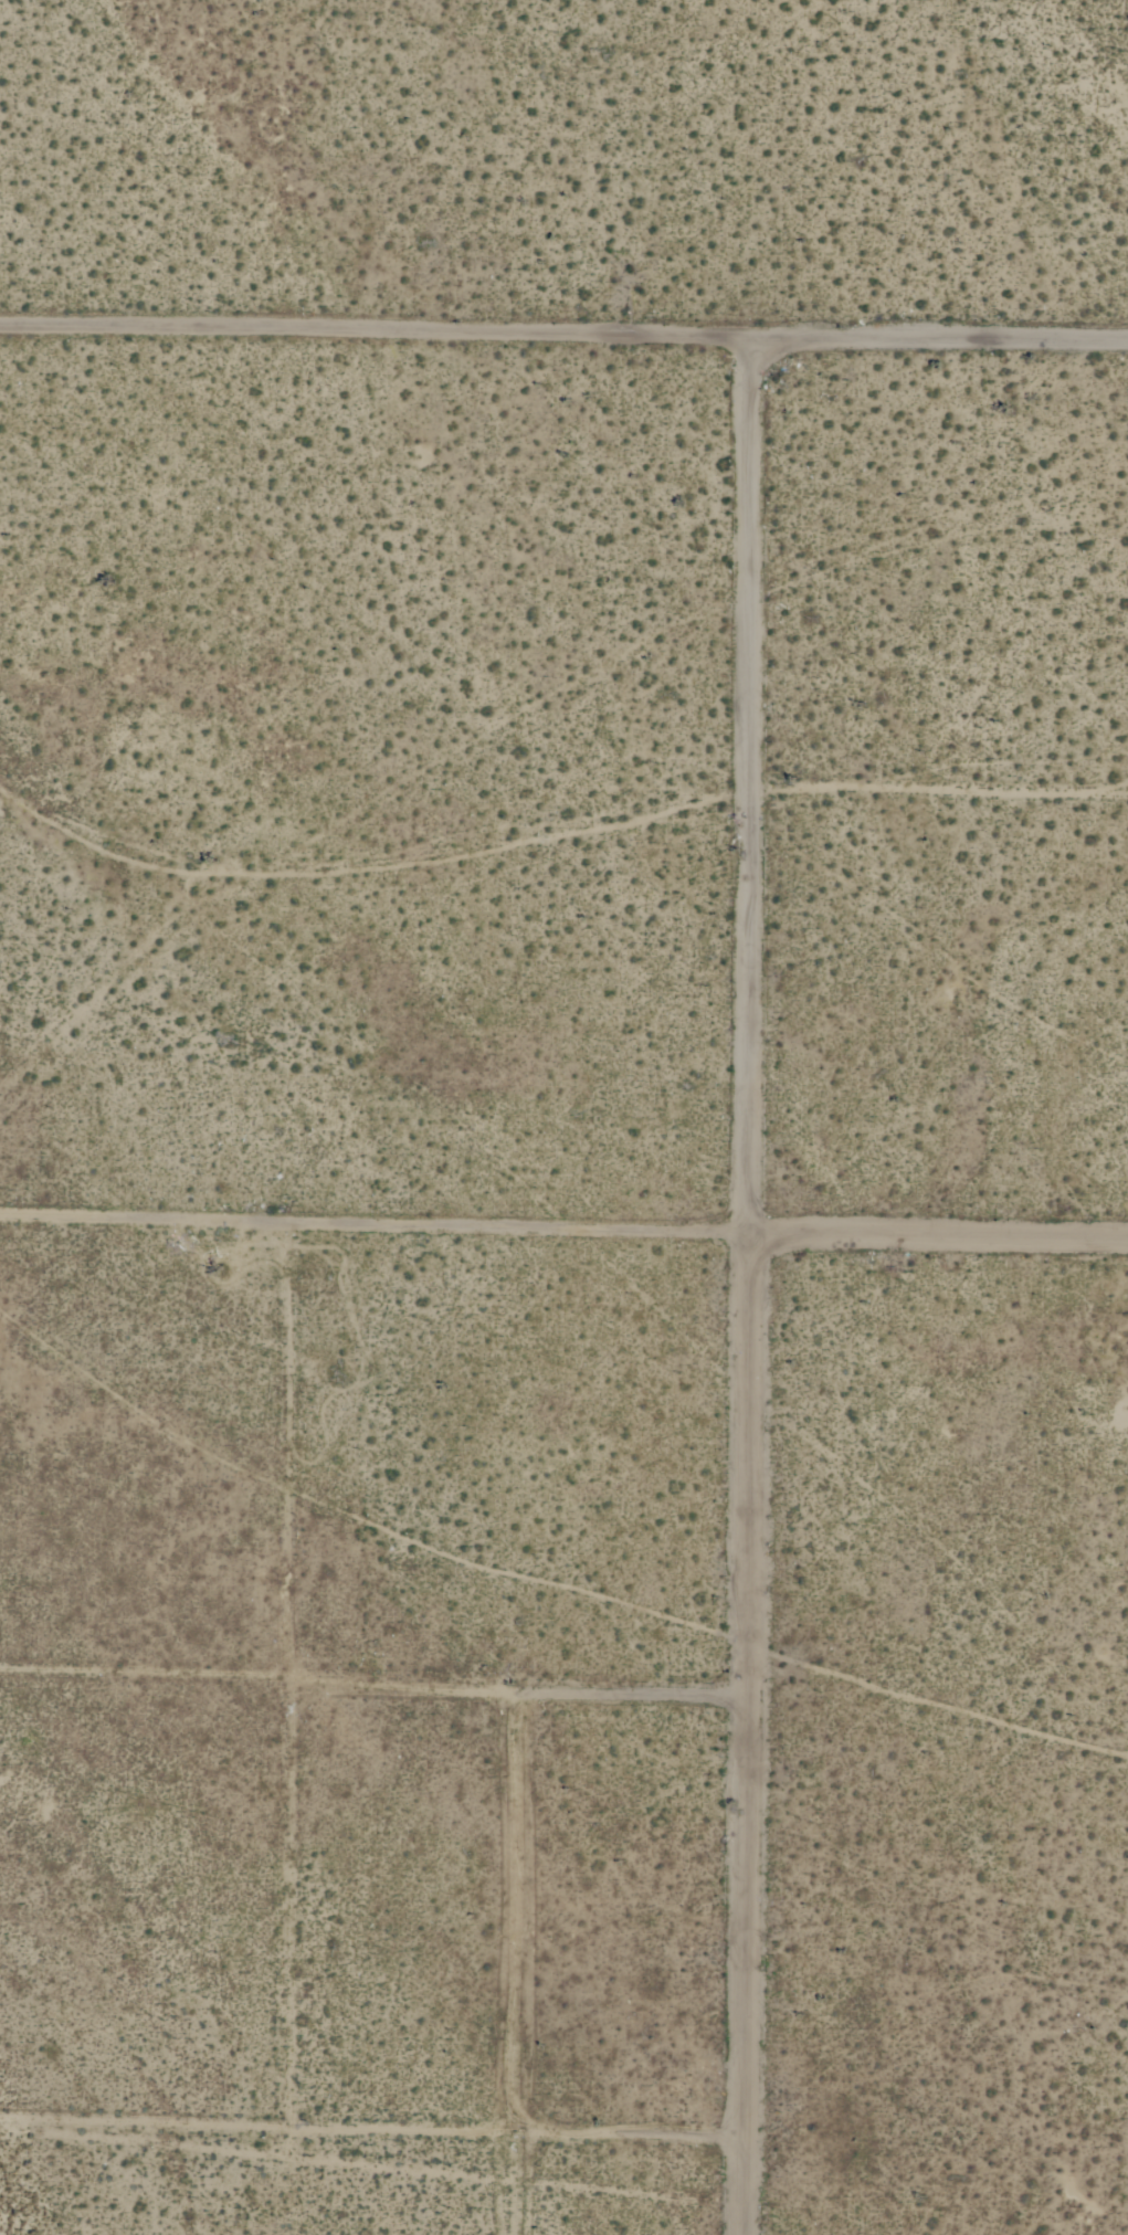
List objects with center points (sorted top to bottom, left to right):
road: (563, 338)
road: (928, 783)
road: (563, 1232)
road: (749, 1288)
road: (304, 1672)
road: (565, 1706)
road: (567, 1914)
road: (563, 2120)

